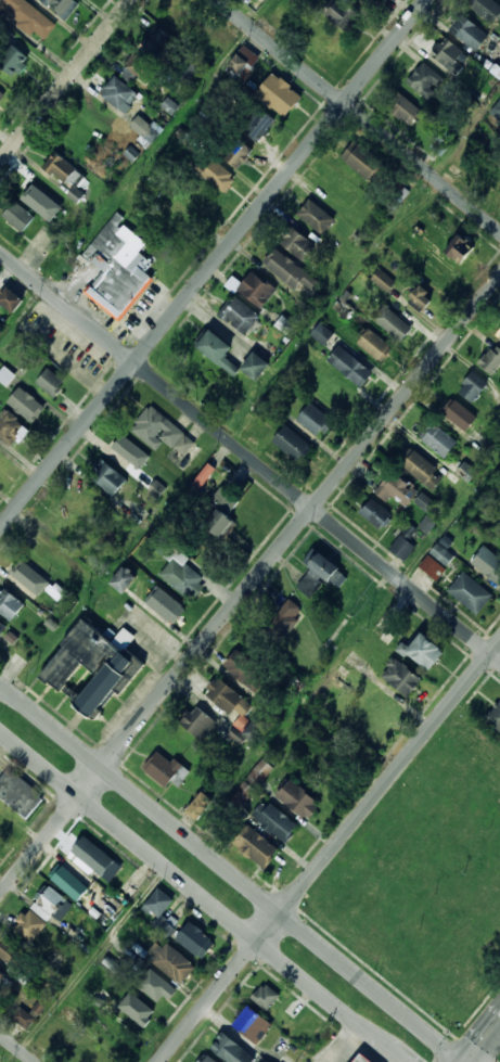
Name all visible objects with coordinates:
building: (264, 0)
building: (366, 3)
building: (63, 7)
building: (487, 10)
building: (343, 13)
building: (279, 15)
building: (30, 16)
building: (180, 18)
building: (469, 30)
building: (323, 36)
building: (222, 39)
building: (158, 42)
building: (449, 55)
building: (15, 61)
building: (241, 62)
building: (141, 66)
building: (425, 80)
road: (66, 81)
building: (118, 92)
building: (1, 94)
building: (280, 94)
building: (498, 103)
building: (403, 108)
road: (358, 115)
building: (259, 124)
building: (146, 128)
building: (239, 152)
building: (363, 162)
building: (61, 167)
building: (216, 172)
building: (75, 194)
building: (36, 196)
building: (20, 216)
building: (317, 217)
building: (297, 243)
building: (460, 245)
road: (214, 264)
building: (117, 268)
building: (289, 270)
building: (382, 279)
building: (257, 290)
building: (424, 297)
building: (11, 299)
building: (241, 316)
building: (393, 321)
building: (322, 333)
building: (499, 334)
building: (499, 338)
building: (375, 345)
building: (217, 350)
building: (491, 359)
building: (256, 366)
building: (351, 366)
building: (5, 375)
building: (51, 382)
building: (474, 386)
building: (26, 405)
building: (460, 414)
building: (317, 421)
building: (11, 428)
building: (161, 432)
building: (439, 439)
building: (293, 445)
building: (128, 450)
road: (249, 456)
building: (0, 459)
building: (424, 470)
building: (465, 471)
building: (110, 476)
building: (203, 476)
building: (397, 489)
building: (87, 500)
building: (424, 501)
building: (223, 513)
building: (377, 514)
building: (65, 523)
building: (426, 524)
building: (405, 542)
building: (437, 561)
building: (488, 562)
building: (321, 576)
building: (30, 578)
building: (183, 578)
building: (124, 579)
road: (249, 585)
building: (471, 592)
building: (10, 604)
building: (167, 605)
building: (283, 624)
building: (2, 627)
building: (427, 651)
building: (79, 655)
building: (247, 671)
building: (401, 677)
building: (108, 682)
building: (226, 695)
building: (495, 717)
building: (200, 722)
building: (256, 730)
building: (167, 769)
building: (255, 778)
building: (20, 793)
building: (297, 798)
building: (201, 806)
building: (275, 821)
building: (7, 829)
building: (256, 846)
building: (1, 850)
road: (330, 853)
building: (95, 860)
road: (233, 872)
building: (70, 883)
road: (201, 896)
building: (158, 904)
building: (53, 905)
building: (104, 911)
building: (165, 924)
building: (29, 926)
building: (196, 942)
building: (12, 954)
building: (175, 963)
road: (91, 965)
building: (2, 977)
building: (156, 985)
building: (266, 997)
building: (139, 1010)
building: (69, 1012)
building: (22, 1016)
building: (253, 1025)
building: (52, 1036)
road: (330, 1039)
road: (484, 1041)
road: (18, 1046)
building: (232, 1050)
park: (496, 1054)
building: (94, 1057)
building: (364, 1058)
building: (206, 1059)
building: (265, 1060)
traffic signals: (469, 1061)

